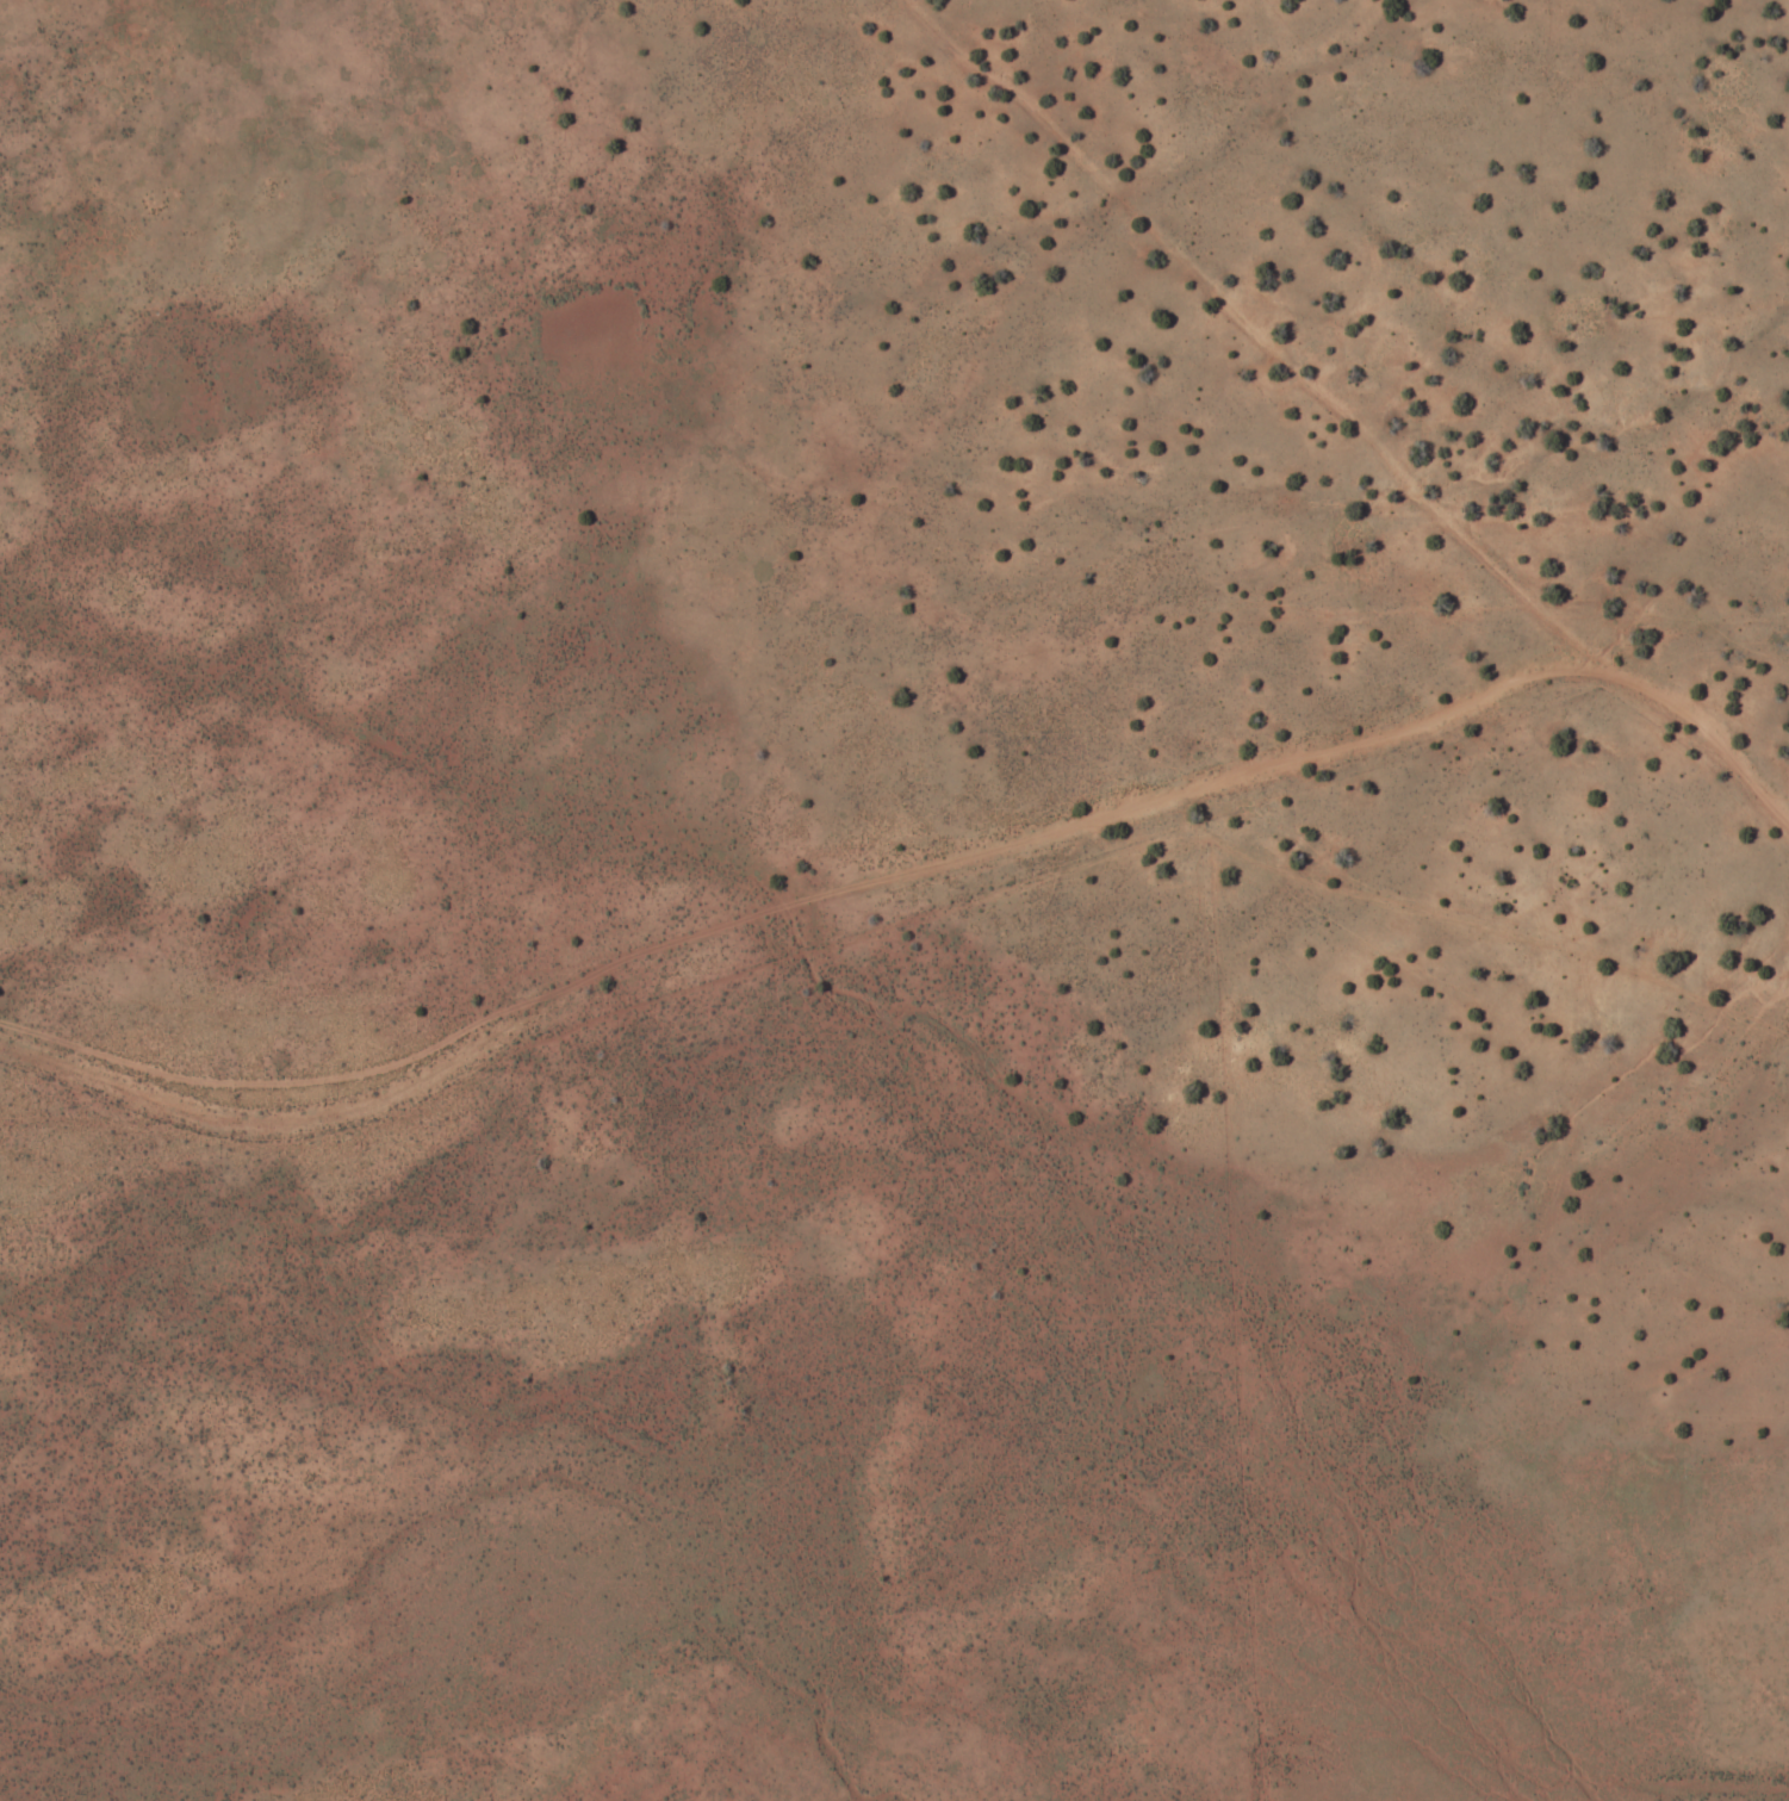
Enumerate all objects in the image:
road: (906, 875)

